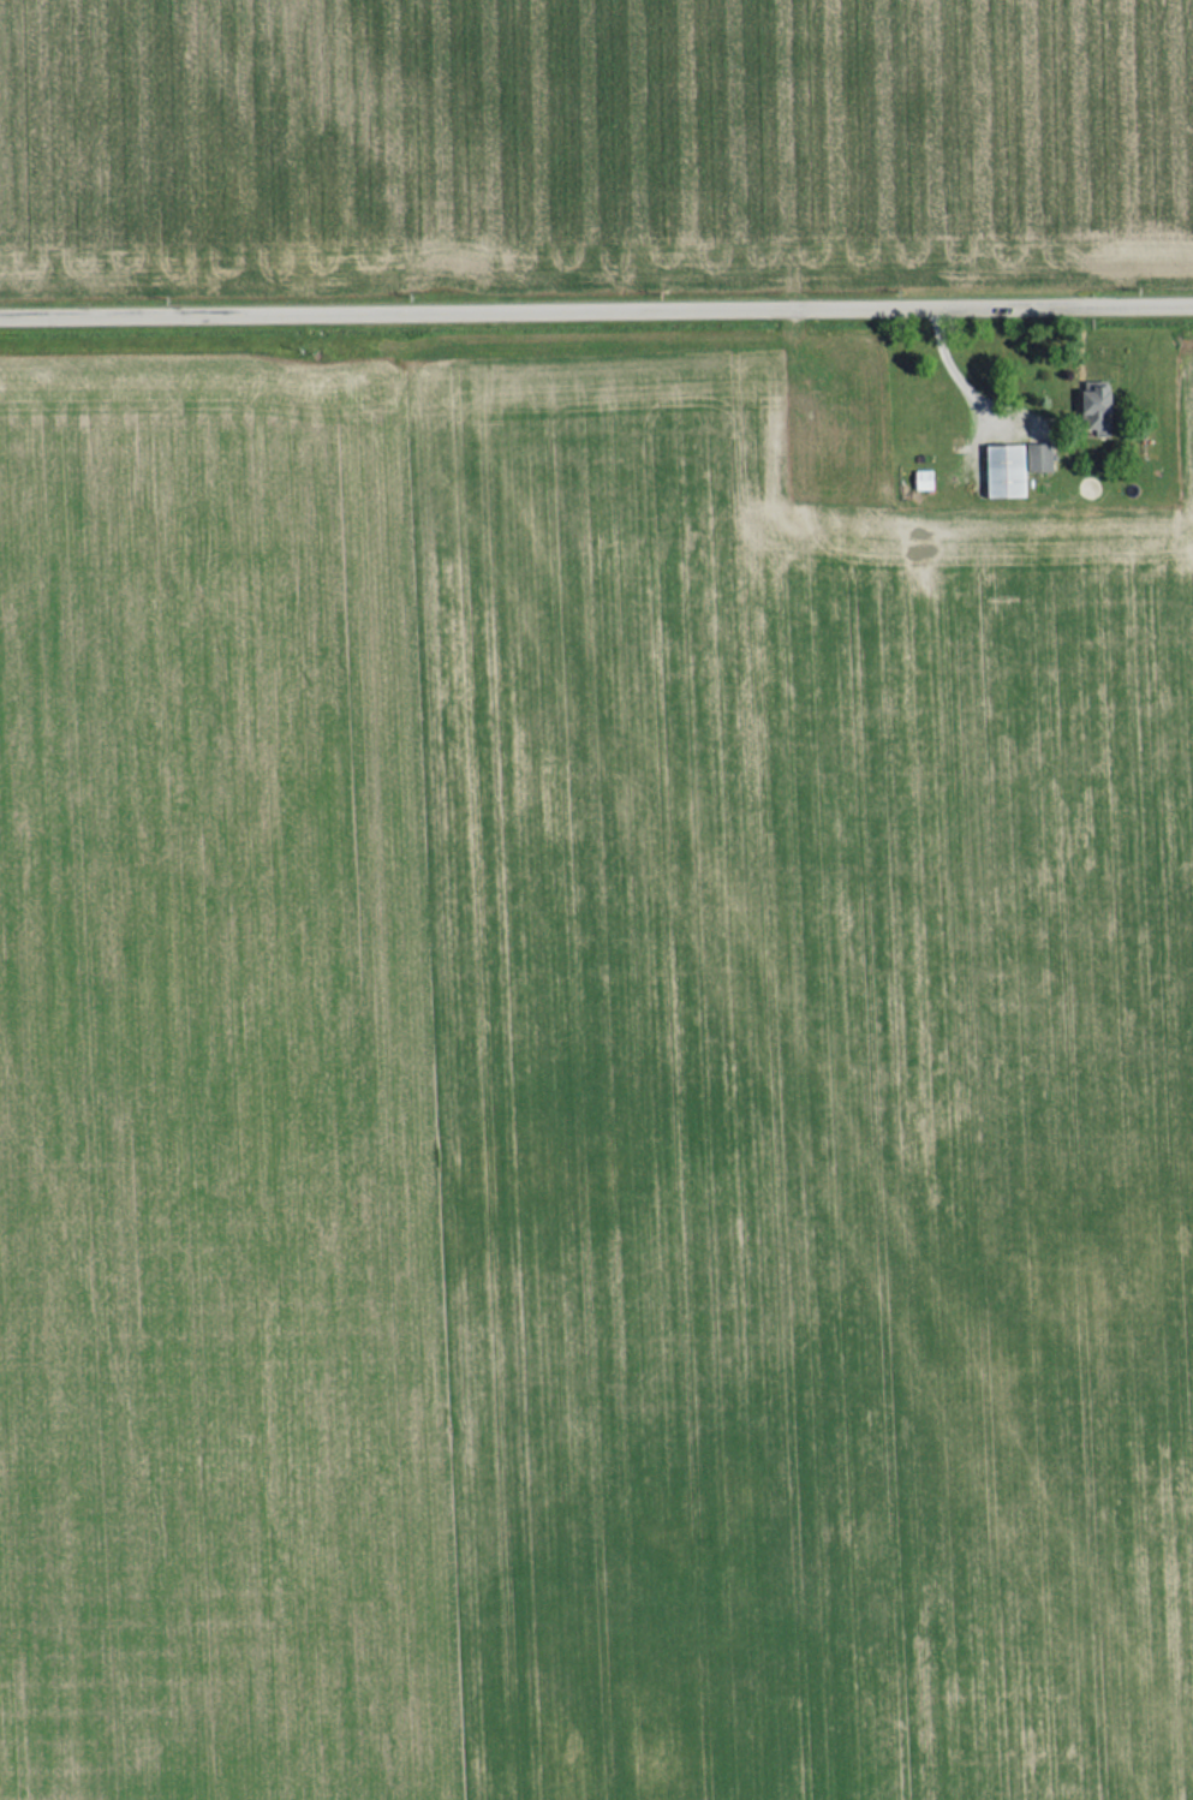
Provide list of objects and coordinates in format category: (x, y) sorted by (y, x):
crop: (591, 139)
road: (596, 305)
building: (1090, 409)
building: (1009, 467)
building: (918, 481)
crop: (583, 1102)

